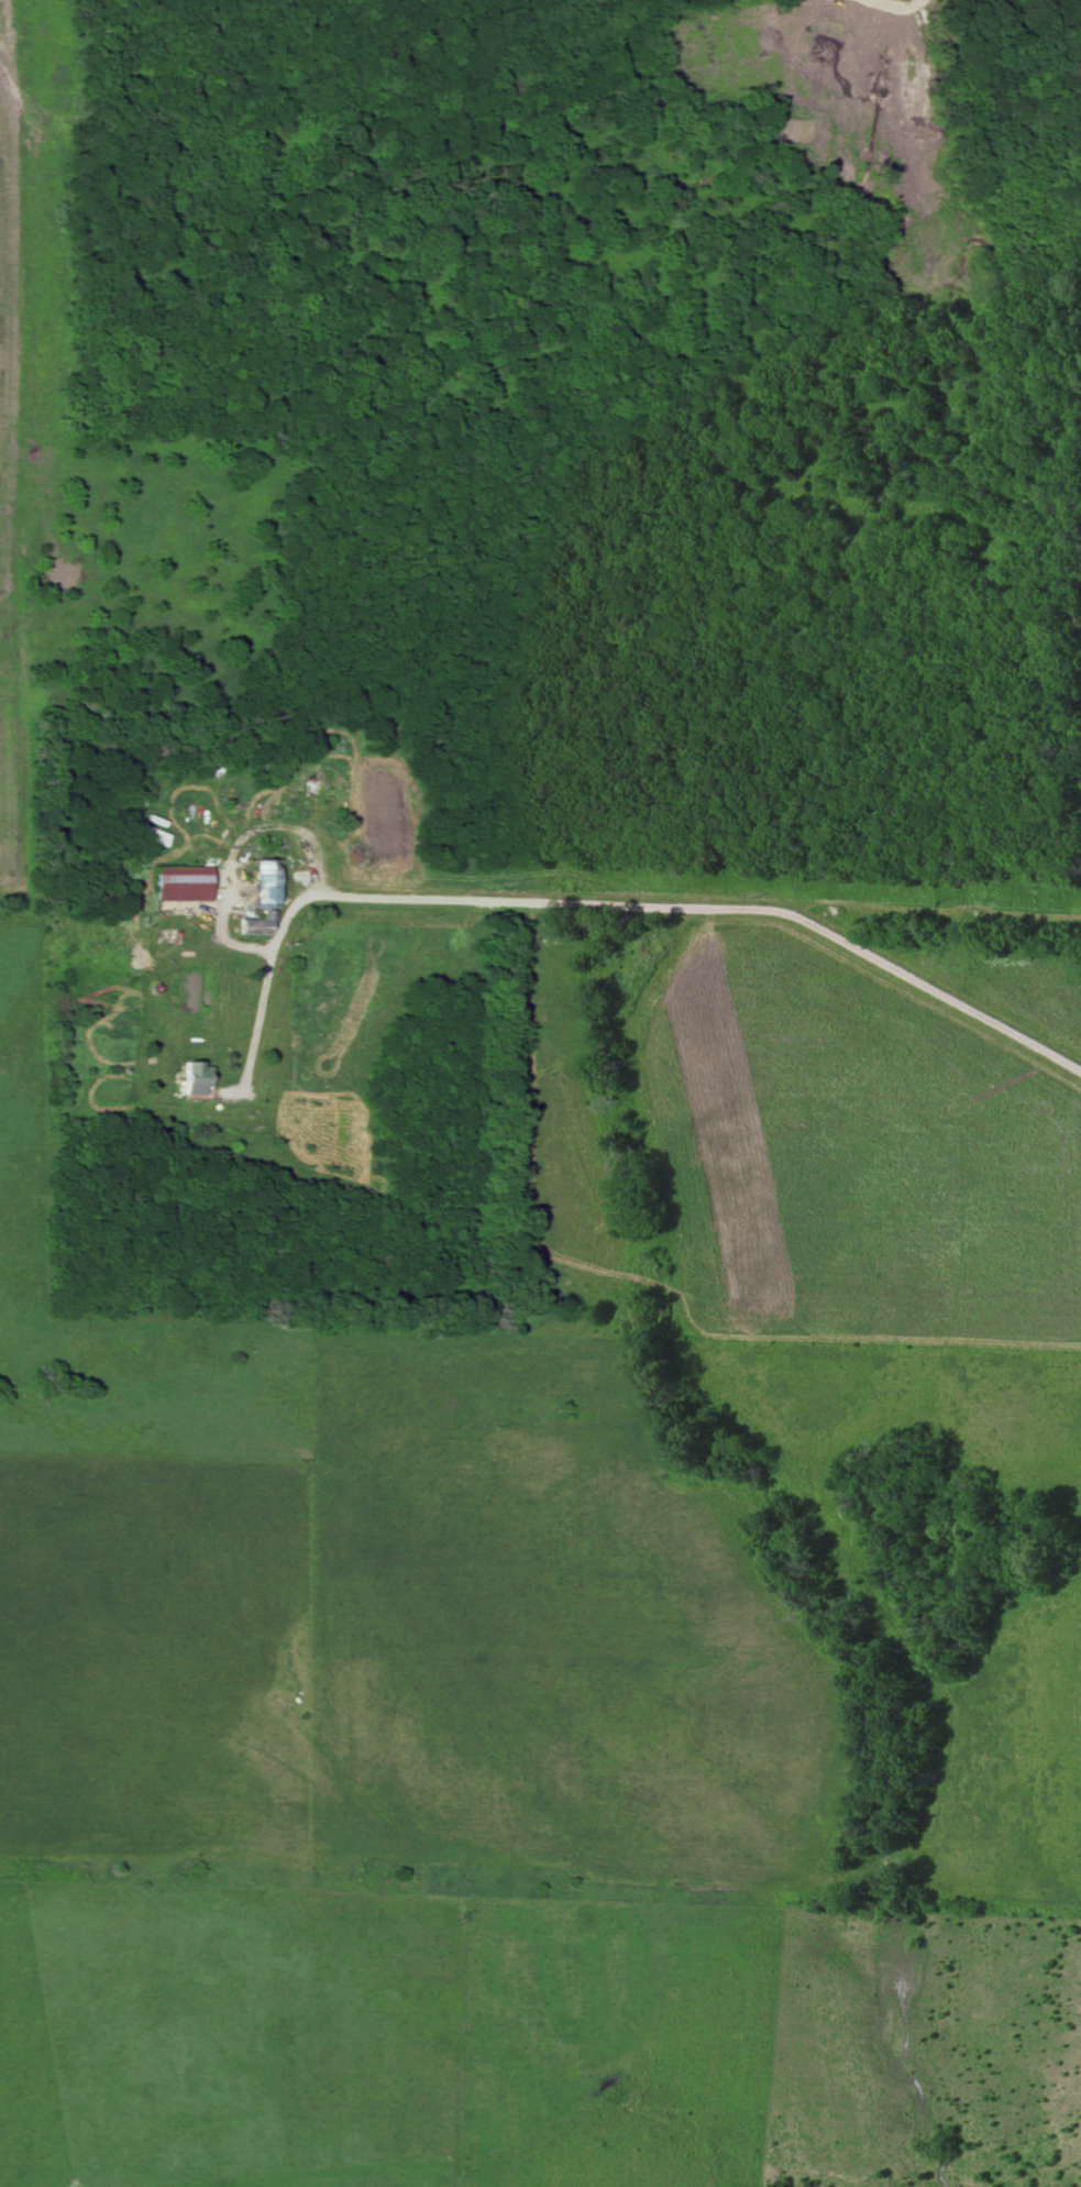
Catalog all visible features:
crop: (20, 827)
building: (175, 884)
building: (256, 886)
road: (613, 906)
building: (191, 1078)

